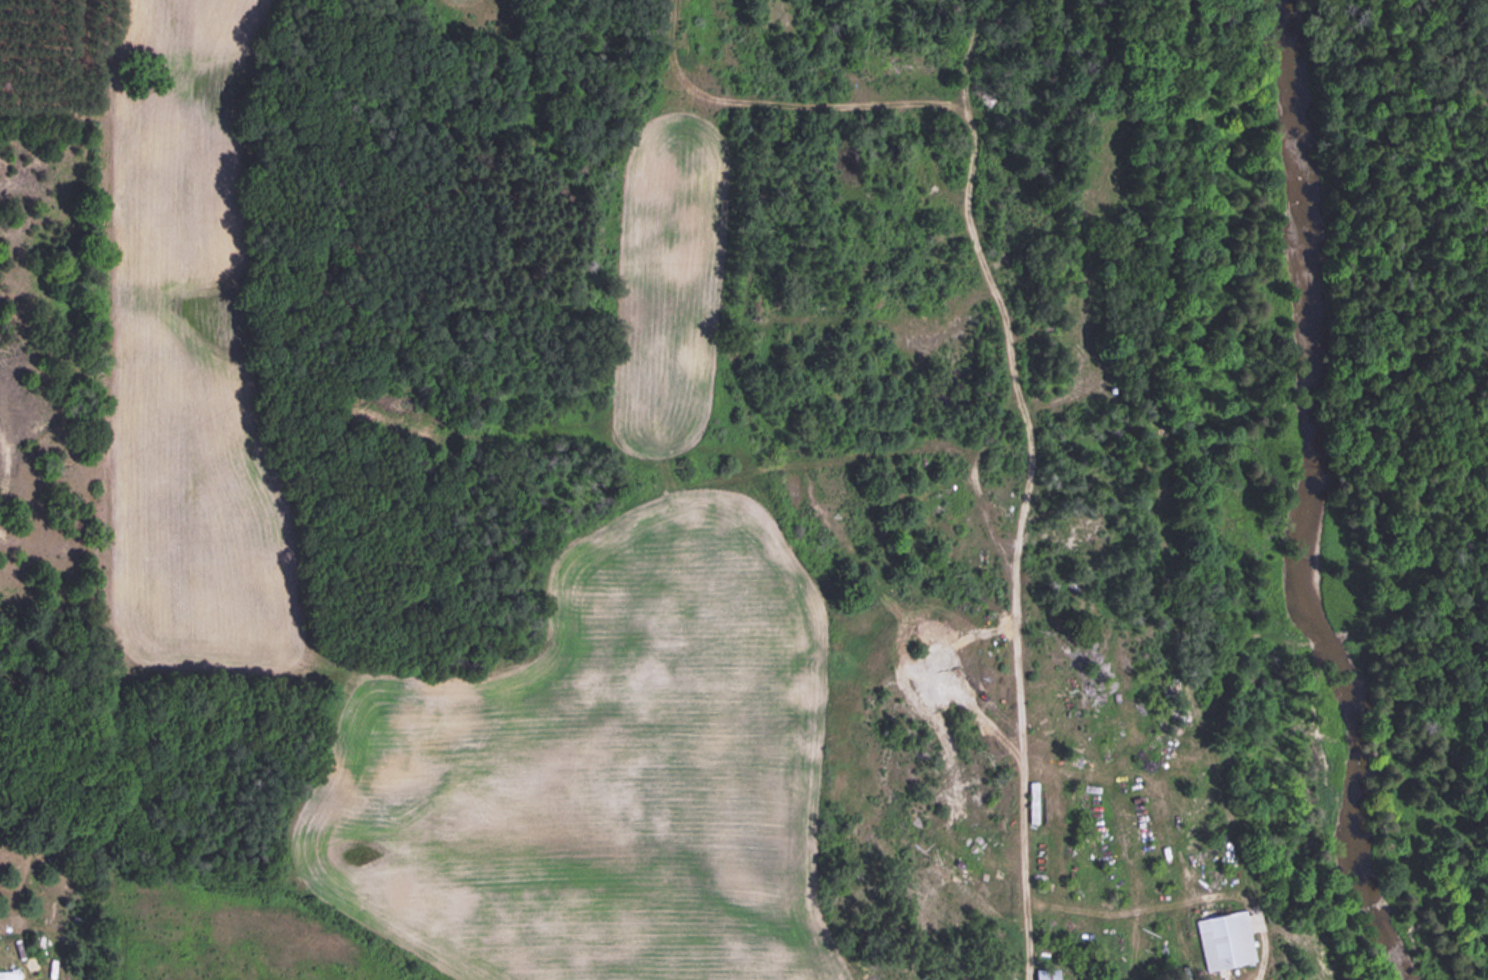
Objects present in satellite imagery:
river: (1357, 495)
building: (946, 866)
building: (1224, 938)
building: (1043, 973)
building: (8, 974)

